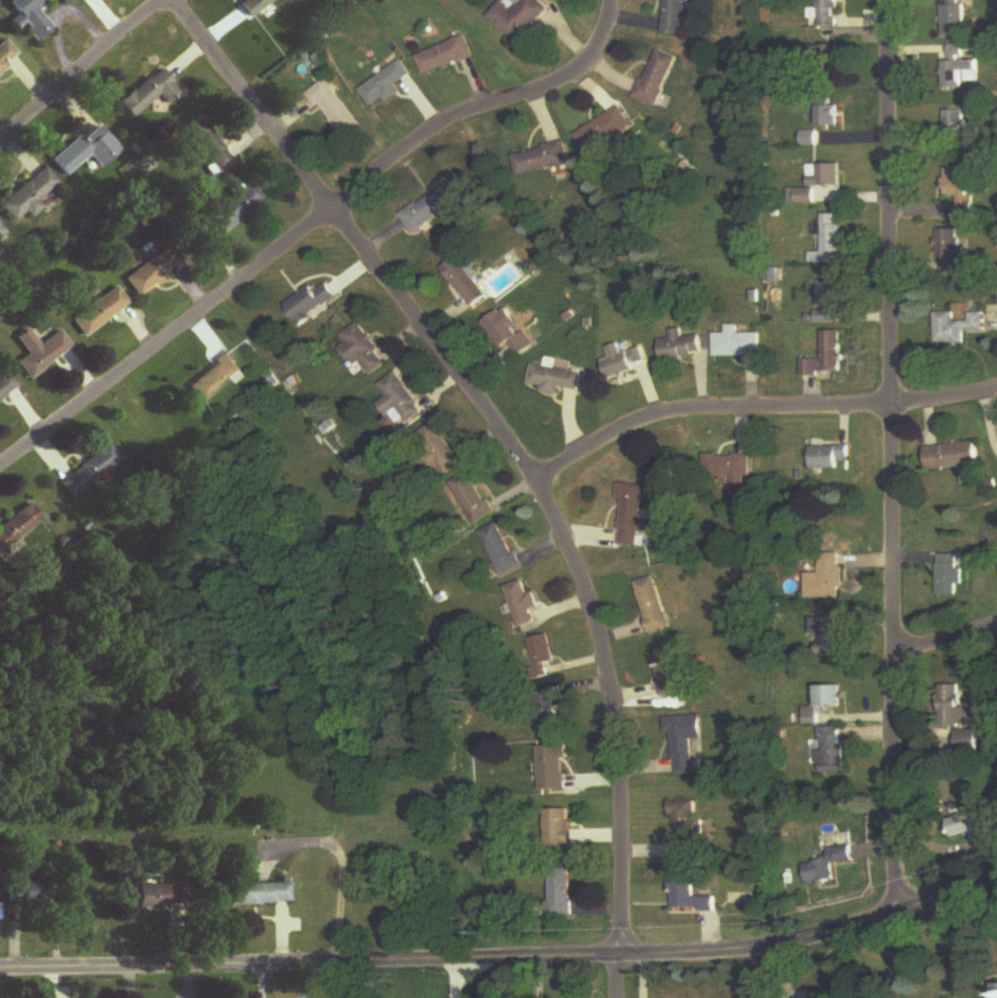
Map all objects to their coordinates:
building: (253, 6)
building: (826, 13)
building: (678, 17)
building: (30, 18)
building: (518, 18)
building: (955, 22)
building: (7, 57)
building: (445, 57)
building: (826, 59)
road: (82, 66)
building: (958, 69)
building: (657, 79)
building: (385, 87)
building: (148, 94)
building: (335, 109)
building: (830, 116)
building: (955, 126)
building: (604, 131)
building: (209, 148)
building: (86, 150)
building: (541, 159)
building: (827, 175)
building: (961, 187)
building: (28, 197)
building: (235, 207)
building: (430, 209)
road: (309, 225)
building: (830, 240)
building: (949, 250)
building: (151, 272)
building: (466, 281)
building: (830, 301)
building: (312, 303)
building: (99, 311)
building: (957, 326)
building: (508, 332)
building: (738, 344)
building: (684, 347)
building: (40, 351)
building: (365, 351)
building: (828, 357)
building: (624, 362)
building: (214, 377)
building: (556, 380)
building: (6, 386)
building: (401, 401)
road: (760, 407)
road: (504, 432)
building: (440, 449)
road: (890, 456)
building: (829, 457)
building: (952, 457)
building: (726, 467)
building: (89, 471)
building: (474, 498)
building: (634, 516)
building: (18, 526)
building: (502, 550)
building: (949, 576)
building: (828, 577)
building: (524, 604)
building: (654, 606)
road: (944, 640)
building: (544, 655)
building: (675, 672)
building: (832, 697)
building: (952, 707)
building: (967, 741)
building: (688, 745)
building: (832, 751)
building: (554, 768)
building: (968, 824)
building: (559, 828)
building: (688, 832)
building: (829, 865)
building: (26, 890)
building: (258, 894)
building: (562, 895)
building: (158, 896)
building: (691, 897)
road: (962, 944)
road: (503, 960)
road: (622, 978)

